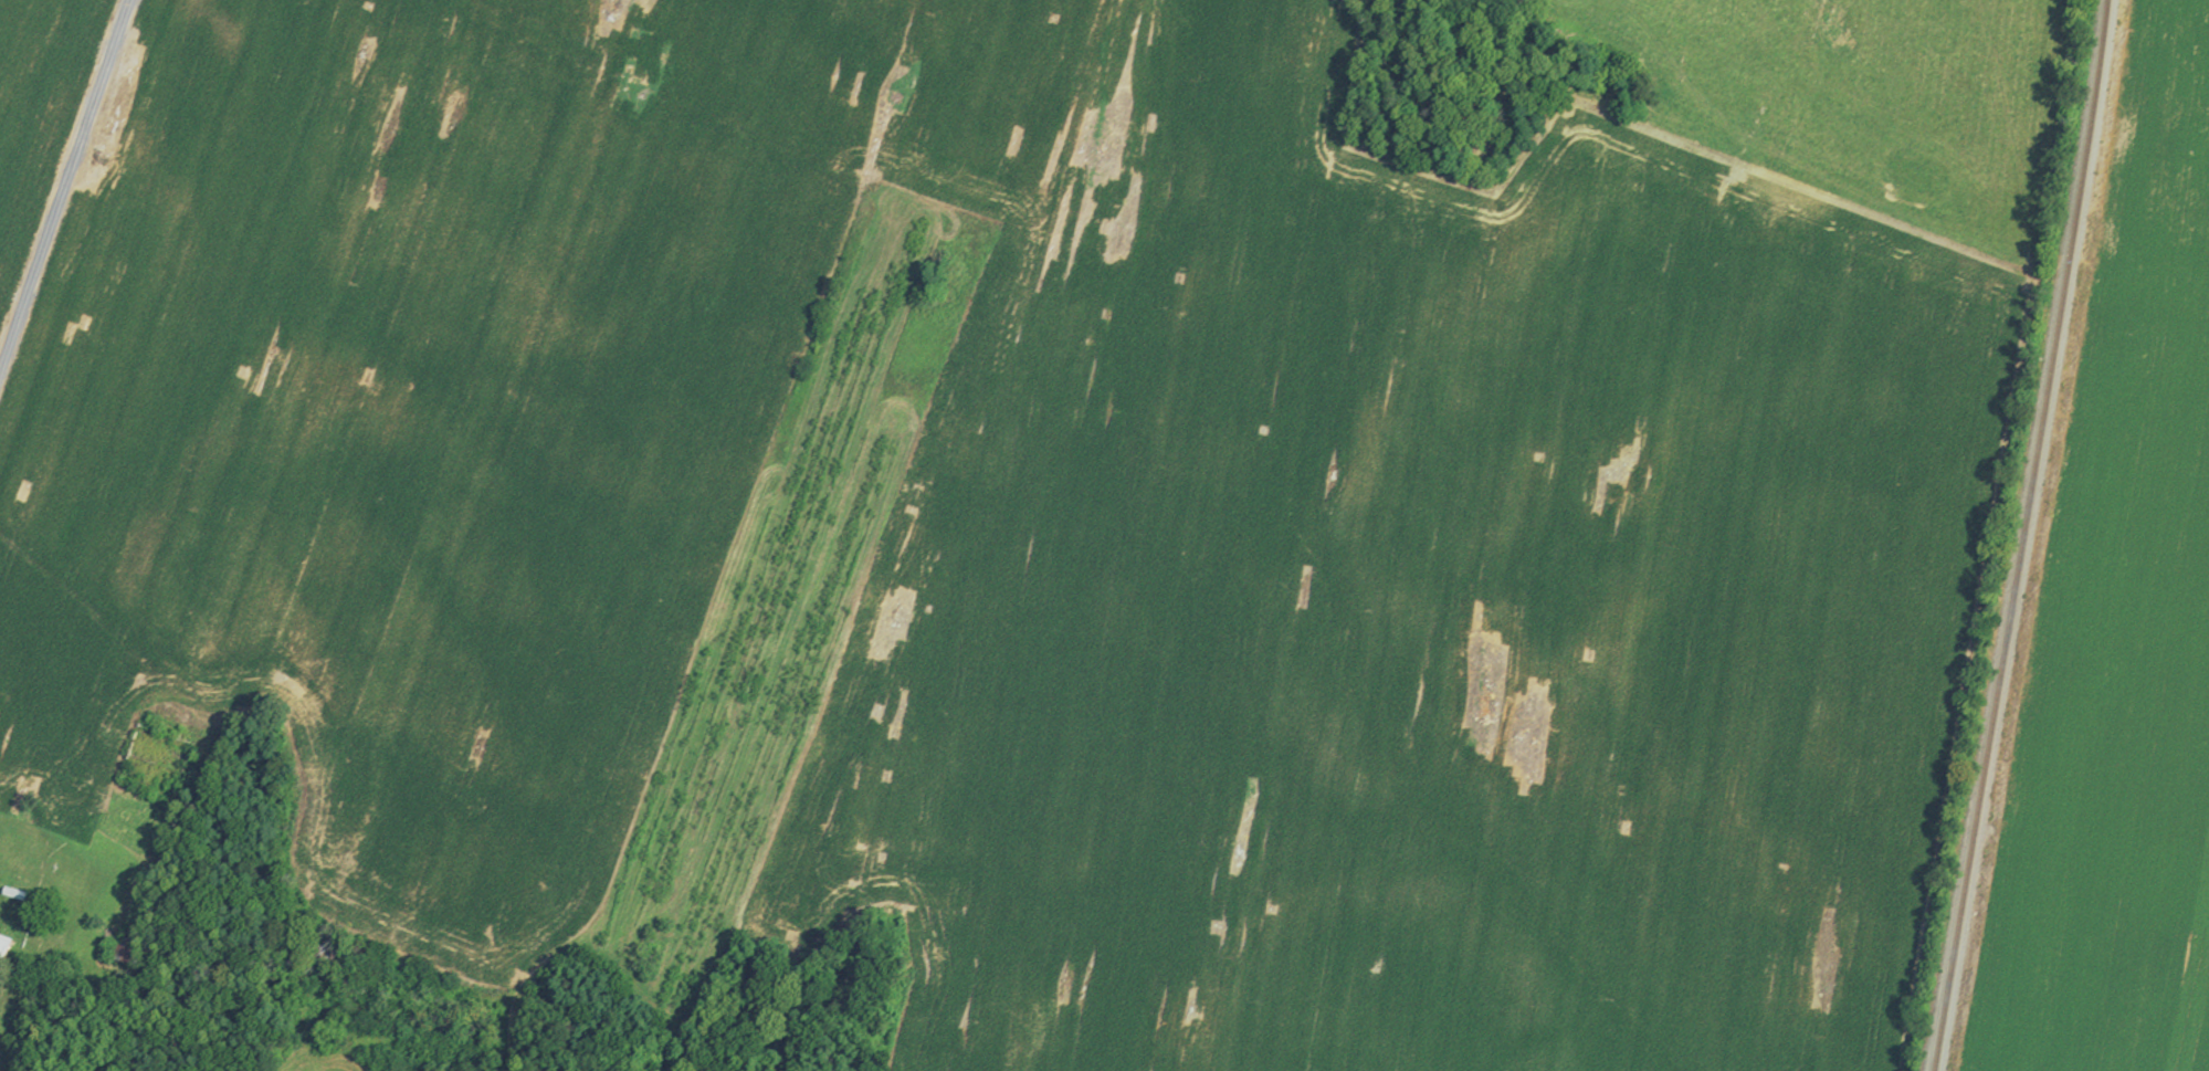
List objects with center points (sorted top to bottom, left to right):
road: (66, 193)
railway: (2026, 535)
building: (7, 946)
building: (127, 948)

